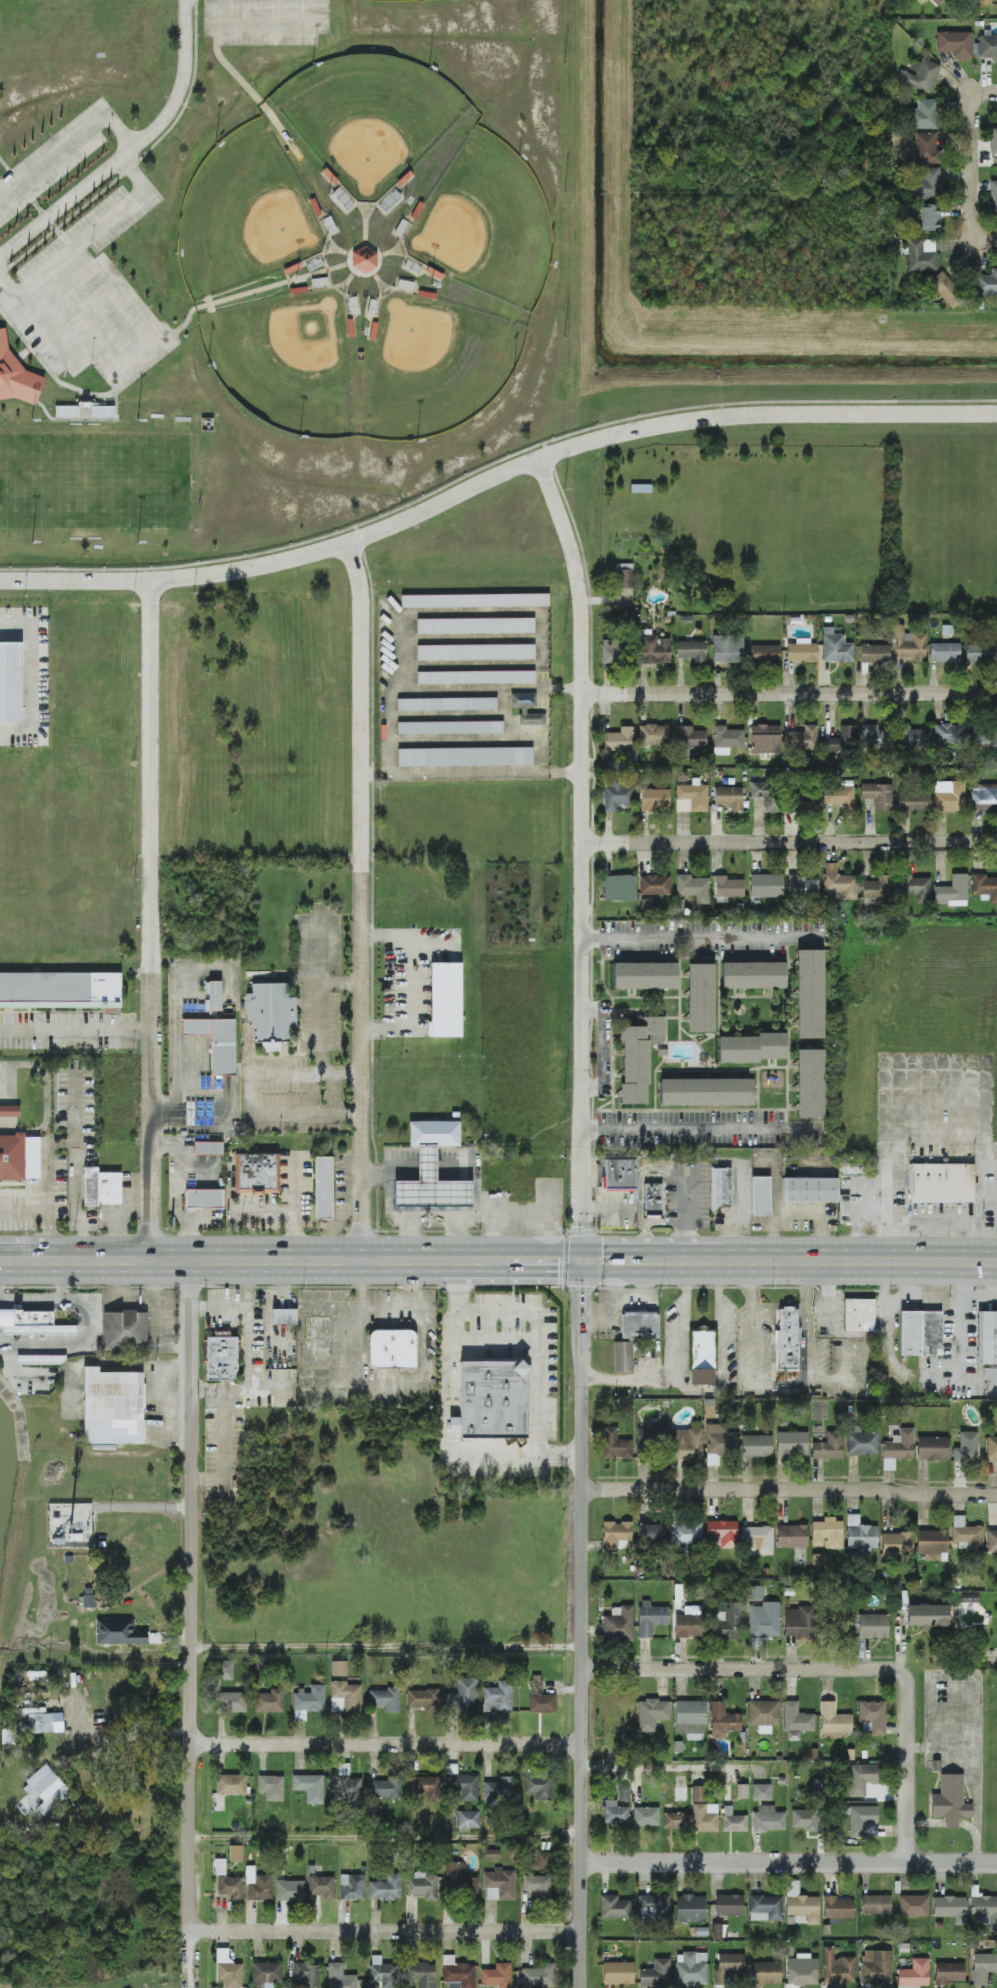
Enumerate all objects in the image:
street lamp: (453, 0)
building: (937, 2)
building: (983, 2)
road: (266, 26)
building: (955, 44)
building: (987, 46)
street lamp: (314, 65)
street lamp: (430, 70)
building: (920, 75)
road: (251, 93)
road: (992, 95)
building: (924, 115)
park: (369, 117)
building: (993, 142)
road: (69, 145)
building: (925, 148)
road: (130, 149)
road: (973, 153)
street lamp: (520, 158)
building: (929, 183)
building: (993, 196)
street lamp: (329, 199)
street lamp: (404, 202)
road: (35, 205)
park: (243, 215)
building: (930, 217)
park: (487, 223)
road: (365, 225)
road: (96, 229)
road: (980, 236)
road: (338, 251)
road: (390, 251)
road: (377, 253)
building: (921, 255)
building: (364, 259)
street lamp: (552, 268)
road: (348, 281)
street lamp: (296, 282)
road: (380, 283)
building: (987, 283)
street lamp: (431, 285)
building: (945, 287)
road: (255, 290)
road: (111, 293)
road: (81, 316)
road: (46, 328)
street lamp: (362, 333)
road: (133, 351)
park: (285, 361)
street lamp: (208, 366)
park: (436, 366)
road: (100, 369)
building: (16, 376)
street lamp: (514, 378)
road: (91, 394)
building: (65, 411)
road: (85, 420)
street lamp: (33, 422)
street lamp: (138, 422)
street lamp: (300, 440)
street lamp: (417, 443)
road: (493, 476)
park: (95, 482)
street lamp: (137, 543)
street lamp: (33, 545)
building: (624, 575)
building: (475, 601)
road: (504, 610)
building: (475, 626)
road: (462, 639)
building: (909, 644)
building: (835, 647)
building: (727, 649)
building: (653, 650)
building: (611, 651)
building: (692, 651)
building: (802, 651)
building: (475, 652)
building: (944, 652)
building: (874, 653)
building: (765, 654)
building: (979, 654)
road: (463, 665)
road: (30, 677)
building: (476, 677)
building: (10, 682)
road: (560, 687)
road: (463, 688)
road: (788, 697)
road: (503, 701)
building: (447, 704)
building: (523, 711)
road: (460, 715)
building: (451, 727)
building: (949, 734)
building: (654, 735)
building: (871, 736)
building: (690, 738)
building: (912, 738)
building: (726, 739)
building: (765, 739)
building: (803, 739)
road: (479, 740)
building: (619, 740)
building: (842, 741)
building: (985, 741)
building: (463, 757)
road: (399, 773)
building: (694, 795)
building: (767, 795)
building: (878, 795)
building: (616, 796)
building: (839, 796)
building: (949, 796)
building: (729, 797)
building: (984, 797)
building: (654, 799)
building: (914, 801)
building: (804, 802)
building: (682, 806)
road: (789, 845)
building: (839, 882)
building: (654, 885)
building: (766, 885)
building: (728, 887)
building: (802, 887)
building: (984, 887)
building: (619, 888)
building: (694, 888)
building: (877, 888)
building: (915, 888)
building: (952, 891)
road: (362, 900)
building: (646, 905)
road: (152, 921)
road: (700, 938)
building: (753, 975)
building: (645, 976)
road: (412, 982)
road: (340, 984)
building: (60, 990)
road: (319, 991)
building: (810, 994)
building: (213, 996)
building: (701, 997)
building: (445, 999)
building: (270, 1013)
road: (76, 1031)
building: (215, 1043)
building: (752, 1048)
building: (638, 1058)
building: (810, 1083)
building: (707, 1092)
road: (249, 1093)
building: (9, 1110)
road: (701, 1129)
road: (62, 1141)
building: (208, 1147)
road: (932, 1147)
building: (19, 1157)
road: (424, 1158)
road: (440, 1163)
road: (411, 1164)
building: (432, 1169)
building: (256, 1173)
building: (619, 1174)
road: (448, 1182)
building: (941, 1182)
road: (407, 1185)
building: (101, 1187)
building: (323, 1187)
building: (720, 1187)
building: (811, 1189)
road: (173, 1195)
building: (760, 1195)
road: (639, 1196)
building: (204, 1198)
building: (652, 1199)
road: (263, 1204)
road: (293, 1206)
road: (775, 1206)
road: (502, 1208)
building: (844, 1208)
road: (49, 1212)
road: (739, 1214)
road: (819, 1217)
road: (686, 1218)
road: (583, 1220)
road: (663, 1222)
road: (449, 1228)
road: (407, 1230)
road: (491, 1235)
road: (498, 1262)
traffic signals: (583, 1263)
road: (65, 1278)
building: (859, 1314)
building: (283, 1316)
road: (92, 1317)
road: (678, 1319)
building: (32, 1323)
building: (640, 1324)
road: (719, 1327)
building: (125, 1329)
building: (920, 1333)
building: (987, 1337)
building: (786, 1338)
road: (536, 1341)
building: (392, 1348)
building: (221, 1356)
building: (623, 1356)
building: (702, 1356)
building: (41, 1360)
building: (990, 1374)
road: (630, 1379)
road: (693, 1389)
building: (492, 1399)
building: (113, 1406)
building: (650, 1440)
building: (861, 1442)
building: (719, 1443)
building: (792, 1443)
building: (686, 1444)
building: (615, 1445)
building: (899, 1445)
building: (756, 1446)
building: (829, 1447)
building: (932, 1448)
building: (966, 1448)
building: (991, 1448)
building: (888, 1464)
road: (790, 1489)
building: (652, 1533)
building: (686, 1533)
building: (723, 1533)
building: (827, 1533)
building: (967, 1534)
building: (616, 1536)
building: (791, 1536)
building: (860, 1536)
building: (760, 1540)
building: (991, 1541)
building: (932, 1543)
building: (897, 1544)
building: (755, 1592)
road: (192, 1595)
building: (88, 1598)
building: (969, 1598)
building: (928, 1615)
building: (651, 1618)
building: (764, 1620)
building: (728, 1622)
building: (799, 1622)
building: (688, 1623)
building: (618, 1624)
building: (872, 1626)
building: (119, 1632)
road: (387, 1647)
building: (339, 1668)
road: (741, 1669)
building: (226, 1670)
building: (462, 1696)
building: (345, 1697)
building: (540, 1697)
building: (498, 1698)
building: (309, 1699)
building: (385, 1699)
building: (423, 1700)
building: (269, 1701)
building: (231, 1702)
building: (651, 1713)
building: (299, 1715)
building: (763, 1715)
building: (873, 1715)
building: (690, 1719)
building: (723, 1720)
building: (796, 1721)
building: (833, 1722)
building: (45, 1723)
road: (388, 1742)
road: (661, 1765)
road: (906, 1766)
road: (975, 1773)
building: (861, 1779)
building: (231, 1784)
building: (463, 1786)
building: (538, 1786)
building: (271, 1787)
building: (310, 1787)
building: (424, 1787)
building: (386, 1788)
building: (45, 1789)
building: (348, 1790)
building: (500, 1791)
building: (761, 1792)
building: (623, 1793)
building: (681, 1793)
building: (950, 1800)
building: (703, 1811)
building: (376, 1813)
building: (615, 1813)
building: (646, 1816)
building: (468, 1819)
building: (768, 1819)
building: (804, 1819)
building: (675, 1820)
building: (733, 1821)
building: (863, 1821)
road: (387, 1839)
building: (236, 1853)
building: (542, 1860)
road: (789, 1864)
building: (459, 1881)
building: (227, 1882)
building: (258, 1885)
building: (499, 1885)
building: (422, 1886)
building: (537, 1886)
building: (322, 1887)
building: (352, 1887)
building: (386, 1888)
building: (290, 1890)
building: (801, 1904)
building: (729, 1905)
building: (876, 1905)
building: (914, 1905)
building: (614, 1907)
building: (654, 1907)
building: (690, 1908)
building: (765, 1908)
building: (838, 1908)
building: (951, 1908)
building: (983, 1908)
road: (386, 1930)
building: (718, 1931)
road: (192, 1958)
building: (728, 1967)
building: (876, 1967)
building: (837, 1968)
building: (983, 1968)
building: (691, 1969)
building: (228, 1970)
building: (802, 1970)
building: (384, 1973)
building: (458, 1973)
building: (618, 1973)
building: (764, 1973)
building: (948, 1973)
building: (266, 1974)
building: (422, 1974)
building: (656, 1974)
building: (914, 1974)
building: (305, 1975)
building: (496, 1976)
building: (539, 1976)
building: (340, 1977)

